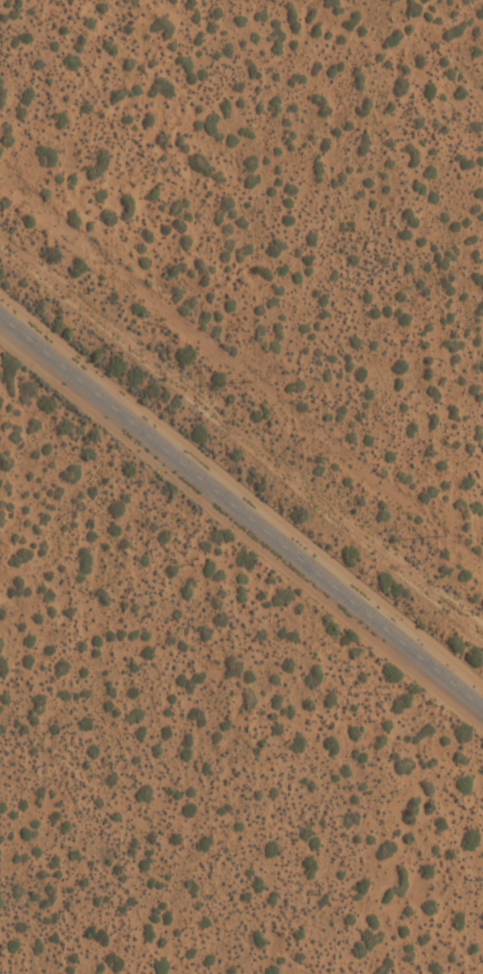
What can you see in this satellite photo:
road: (242, 503)

